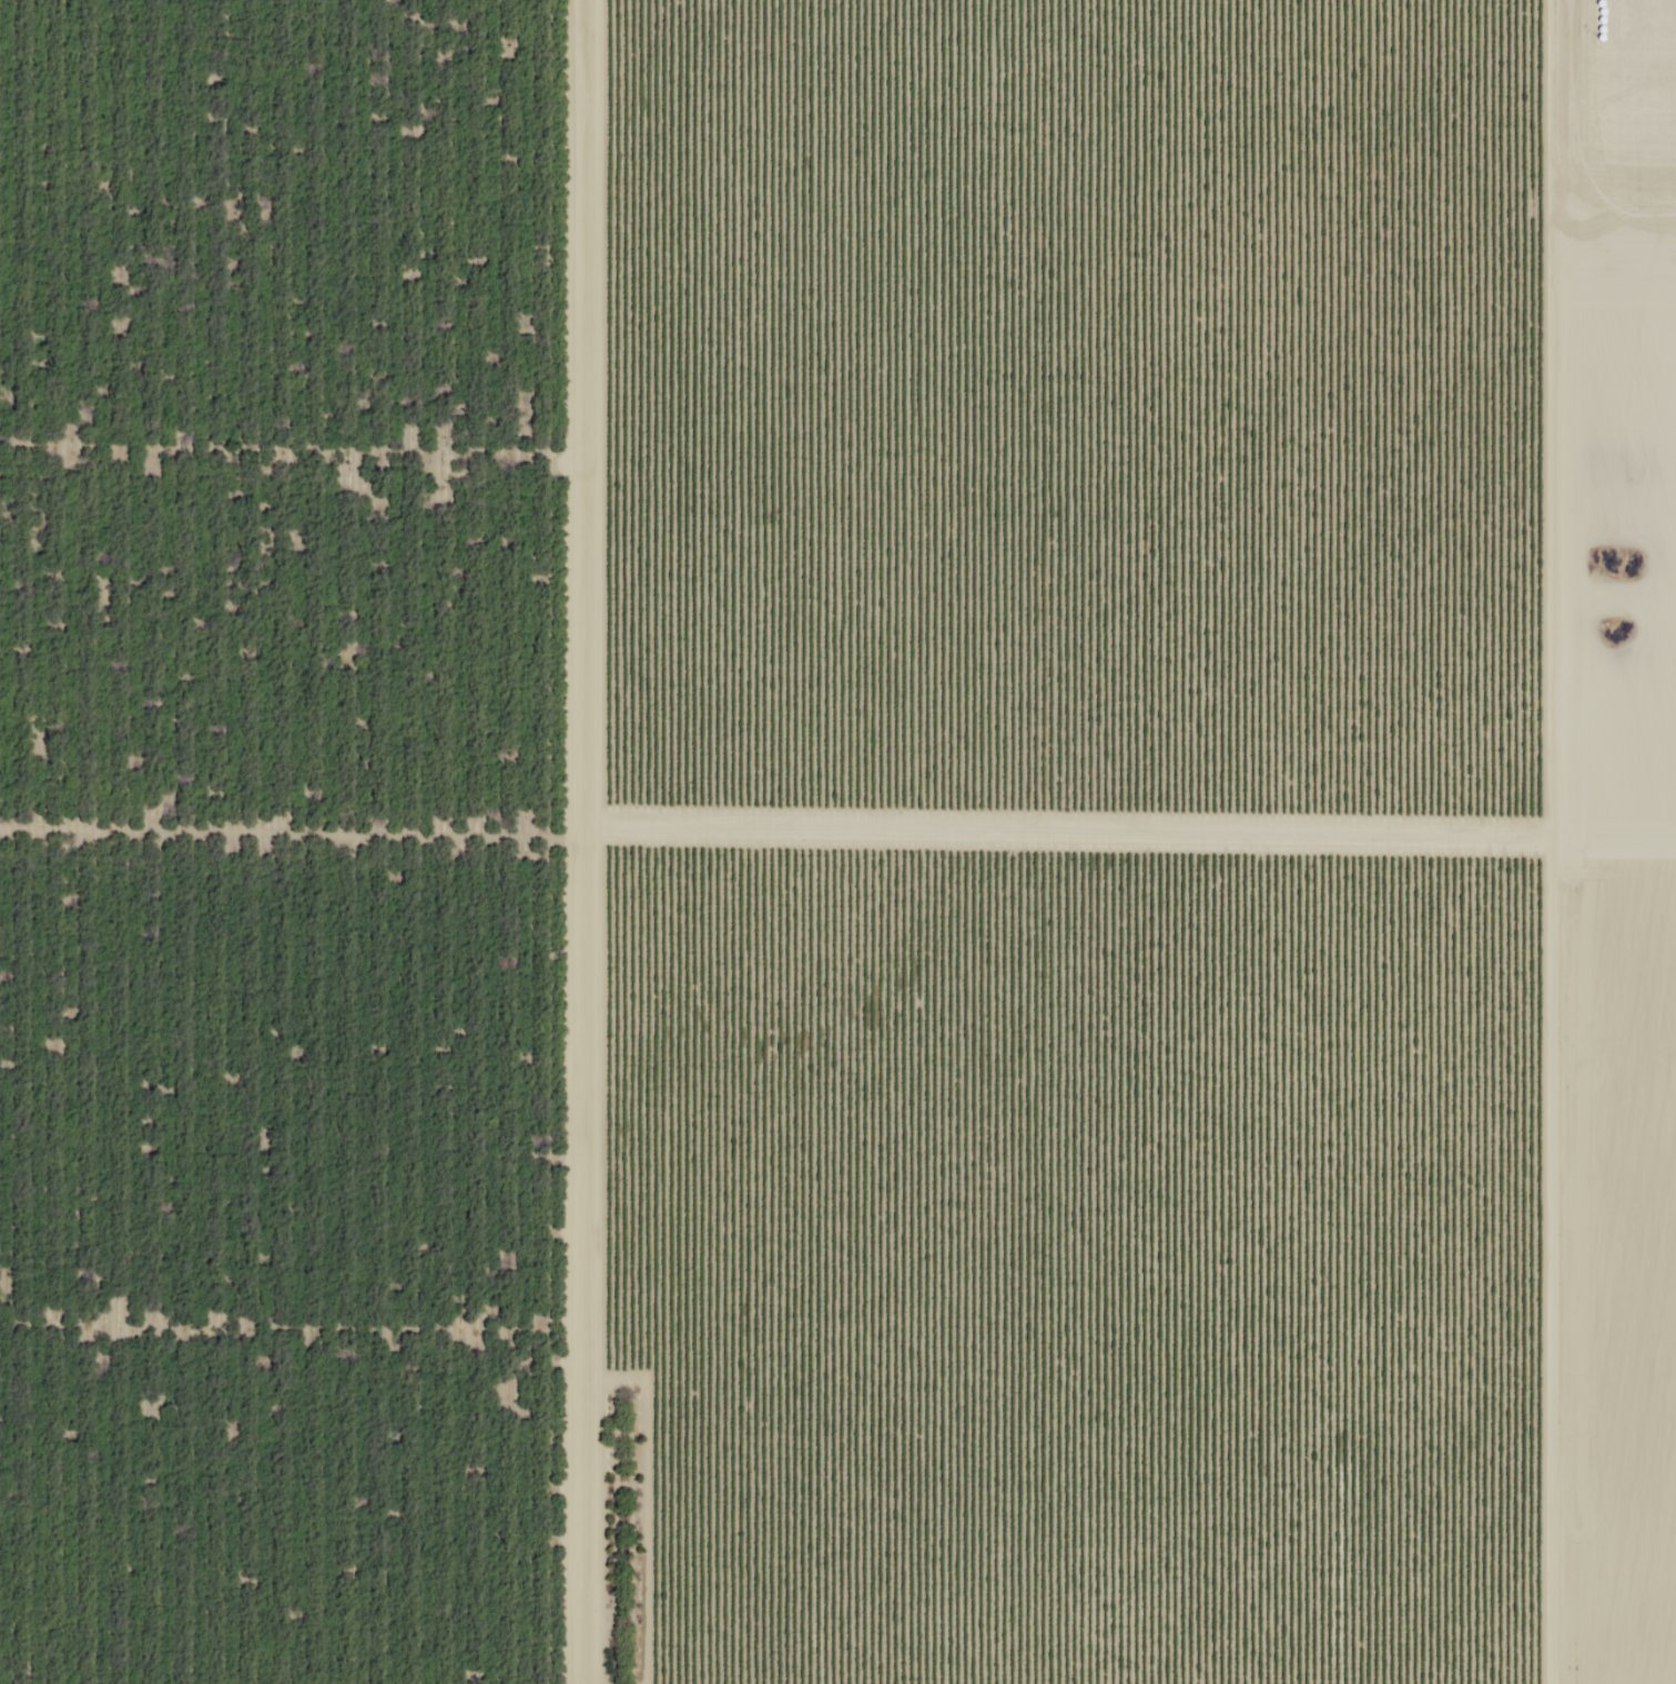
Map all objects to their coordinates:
crop: (1613, 410)
crop: (1611, 1259)

